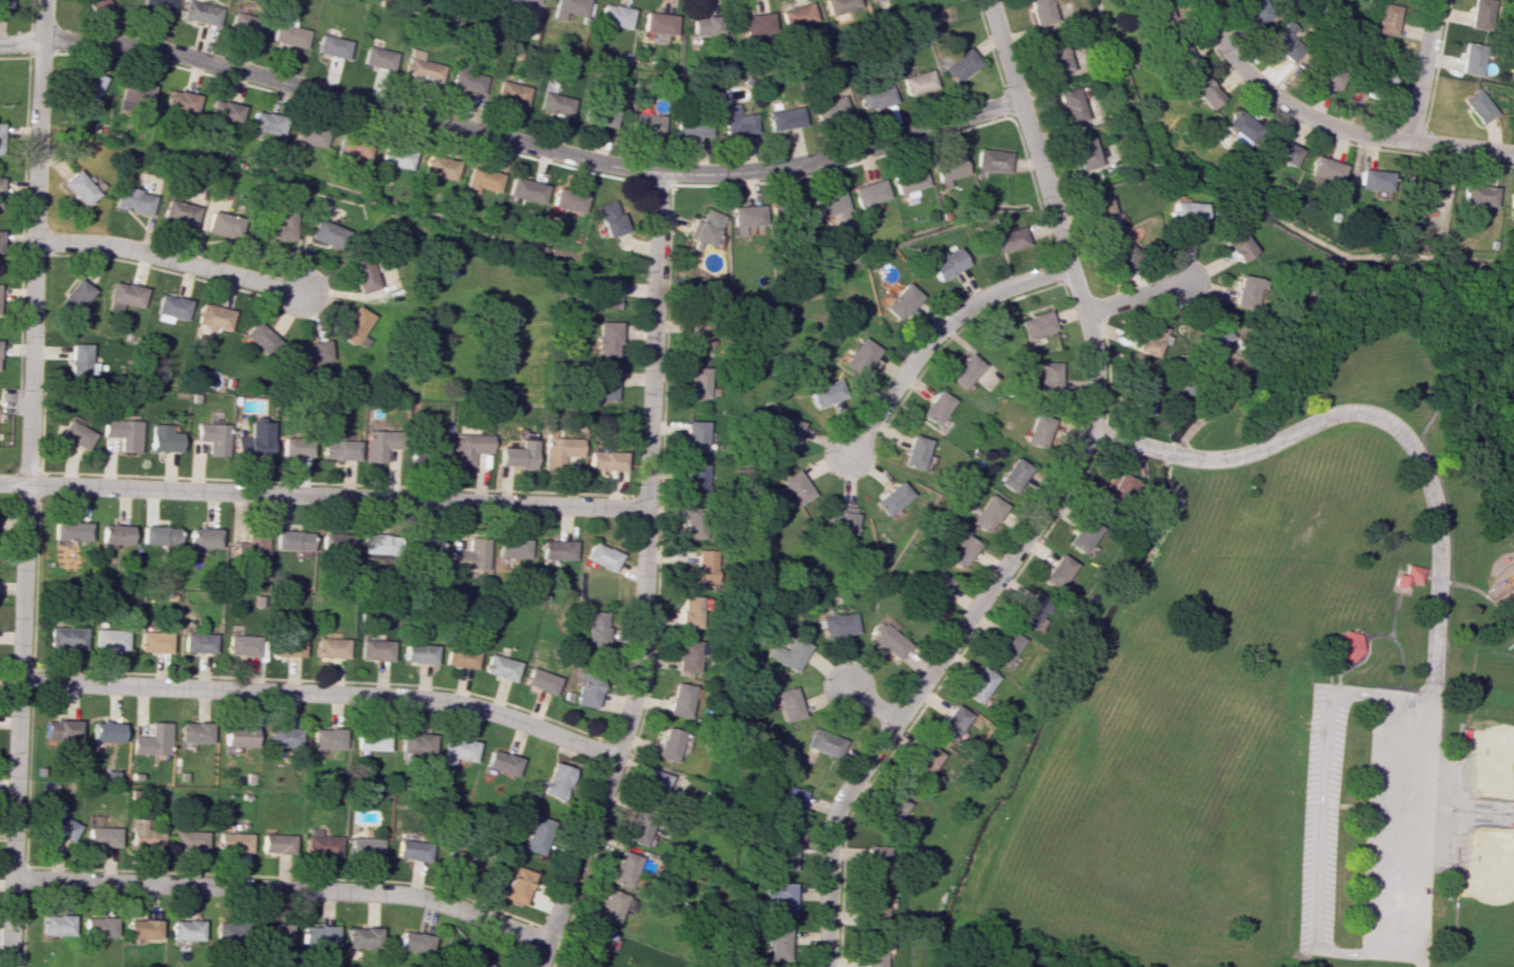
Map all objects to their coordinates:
building: (874, 0)
building: (528, 1)
building: (2, 3)
building: (93, 4)
building: (838, 5)
building: (155, 6)
building: (570, 7)
building: (1155, 10)
building: (1257, 10)
building: (198, 12)
building: (1038, 12)
building: (1479, 13)
building: (613, 15)
building: (796, 15)
building: (1387, 19)
building: (657, 22)
building: (243, 24)
building: (705, 25)
building: (754, 25)
building: (286, 32)
building: (1287, 40)
road: (20, 42)
building: (330, 46)
building: (1176, 52)
building: (1054, 57)
road: (1231, 57)
building: (376, 58)
building: (1469, 58)
building: (960, 65)
building: (419, 66)
road: (1421, 70)
building: (1325, 75)
building: (1377, 78)
building: (467, 81)
building: (918, 82)
building: (86, 87)
building: (510, 92)
building: (1204, 92)
building: (132, 93)
building: (875, 97)
building: (178, 102)
building: (554, 104)
building: (1068, 105)
building: (1475, 105)
building: (830, 107)
building: (222, 112)
building: (603, 116)
building: (785, 118)
building: (737, 120)
building: (264, 122)
building: (644, 123)
building: (691, 125)
building: (1239, 125)
road: (1027, 133)
building: (0, 134)
building: (307, 134)
road: (1393, 139)
road: (528, 144)
building: (351, 147)
building: (1279, 151)
building: (1082, 152)
building: (394, 156)
building: (989, 160)
building: (438, 167)
building: (945, 171)
building: (1322, 171)
building: (479, 180)
building: (906, 181)
building: (1372, 181)
building: (1424, 187)
building: (77, 188)
building: (524, 190)
building: (865, 194)
building: (1476, 194)
building: (131, 200)
building: (566, 200)
building: (1510, 204)
building: (828, 206)
building: (792, 210)
building: (177, 212)
building: (1103, 214)
building: (1183, 214)
building: (609, 218)
building: (744, 220)
building: (221, 224)
building: (278, 226)
building: (704, 226)
building: (326, 234)
building: (1006, 239)
building: (1233, 244)
building: (1117, 251)
road: (169, 259)
building: (944, 263)
building: (362, 274)
building: (1243, 291)
building: (606, 293)
building: (75, 296)
building: (124, 296)
road: (1134, 299)
building: (899, 301)
building: (171, 308)
building: (213, 316)
building: (354, 324)
building: (1034, 324)
building: (698, 334)
road: (935, 335)
building: (1210, 337)
building: (260, 338)
building: (606, 338)
building: (1147, 338)
building: (311, 352)
building: (857, 357)
building: (78, 359)
building: (962, 370)
building: (1047, 377)
building: (699, 383)
building: (604, 384)
road: (1458, 389)
building: (825, 392)
building: (1139, 398)
building: (934, 407)
road: (1377, 421)
building: (1036, 430)
building: (122, 433)
building: (75, 434)
building: (786, 434)
building: (696, 436)
building: (212, 437)
building: (162, 438)
building: (253, 440)
building: (379, 444)
building: (295, 446)
building: (469, 447)
building: (339, 449)
building: (559, 450)
building: (913, 451)
building: (437, 454)
building: (518, 455)
building: (603, 460)
building: (1012, 474)
building: (695, 478)
road: (29, 483)
building: (1117, 483)
building: (795, 487)
road: (323, 496)
building: (889, 498)
building: (985, 513)
building: (837, 519)
building: (691, 522)
building: (71, 530)
building: (115, 534)
building: (159, 535)
building: (1080, 536)
building: (203, 538)
building: (293, 540)
building: (336, 542)
building: (380, 543)
building: (249, 546)
building: (426, 547)
building: (514, 548)
building: (557, 549)
building: (959, 550)
building: (472, 555)
building: (602, 556)
building: (699, 570)
building: (1055, 571)
building: (1406, 576)
road: (643, 578)
road: (1439, 580)
road: (1469, 587)
building: (933, 588)
building: (1505, 601)
building: (688, 611)
road: (968, 613)
building: (1029, 613)
building: (836, 625)
building: (595, 628)
road: (1391, 633)
building: (67, 637)
building: (111, 639)
building: (155, 641)
building: (887, 641)
building: (199, 642)
building: (244, 645)
building: (1346, 646)
building: (289, 647)
building: (332, 647)
building: (1001, 647)
building: (376, 650)
building: (420, 653)
building: (788, 653)
building: (686, 655)
building: (461, 657)
road: (1399, 661)
building: (500, 667)
park: (1277, 673)
building: (540, 677)
building: (975, 684)
building: (587, 686)
road: (1397, 689)
road: (322, 692)
building: (679, 699)
building: (788, 703)
road: (869, 705)
building: (948, 722)
building: (62, 729)
park: (1488, 729)
building: (107, 731)
building: (196, 732)
building: (240, 735)
building: (284, 737)
building: (328, 738)
building: (154, 740)
building: (372, 740)
building: (822, 742)
building: (417, 743)
building: (668, 744)
building: (459, 750)
building: (503, 762)
building: (921, 765)
building: (556, 781)
building: (654, 787)
building: (790, 803)
road: (1353, 806)
road: (1405, 806)
road: (1445, 807)
building: (888, 809)
road: (1479, 814)
parking lot: (1321, 818)
building: (61, 826)
parking lot: (1399, 826)
building: (639, 827)
road: (1387, 831)
building: (536, 833)
building: (146, 834)
building: (102, 837)
building: (191, 839)
building: (236, 841)
building: (280, 843)
building: (324, 844)
building: (367, 846)
building: (415, 849)
building: (783, 853)
building: (871, 857)
building: (460, 858)
building: (623, 869)
building: (518, 885)
road: (283, 888)
building: (779, 897)
park: (1482, 898)
building: (874, 906)
building: (609, 909)
building: (57, 924)
building: (100, 926)
building: (144, 928)
building: (188, 929)
building: (228, 931)
building: (276, 934)
building: (321, 935)
building: (366, 937)
building: (417, 940)
building: (776, 943)
building: (593, 947)
building: (869, 954)
building: (477, 960)
road: (823, 962)
road: (1419, 962)
road: (1421, 965)

